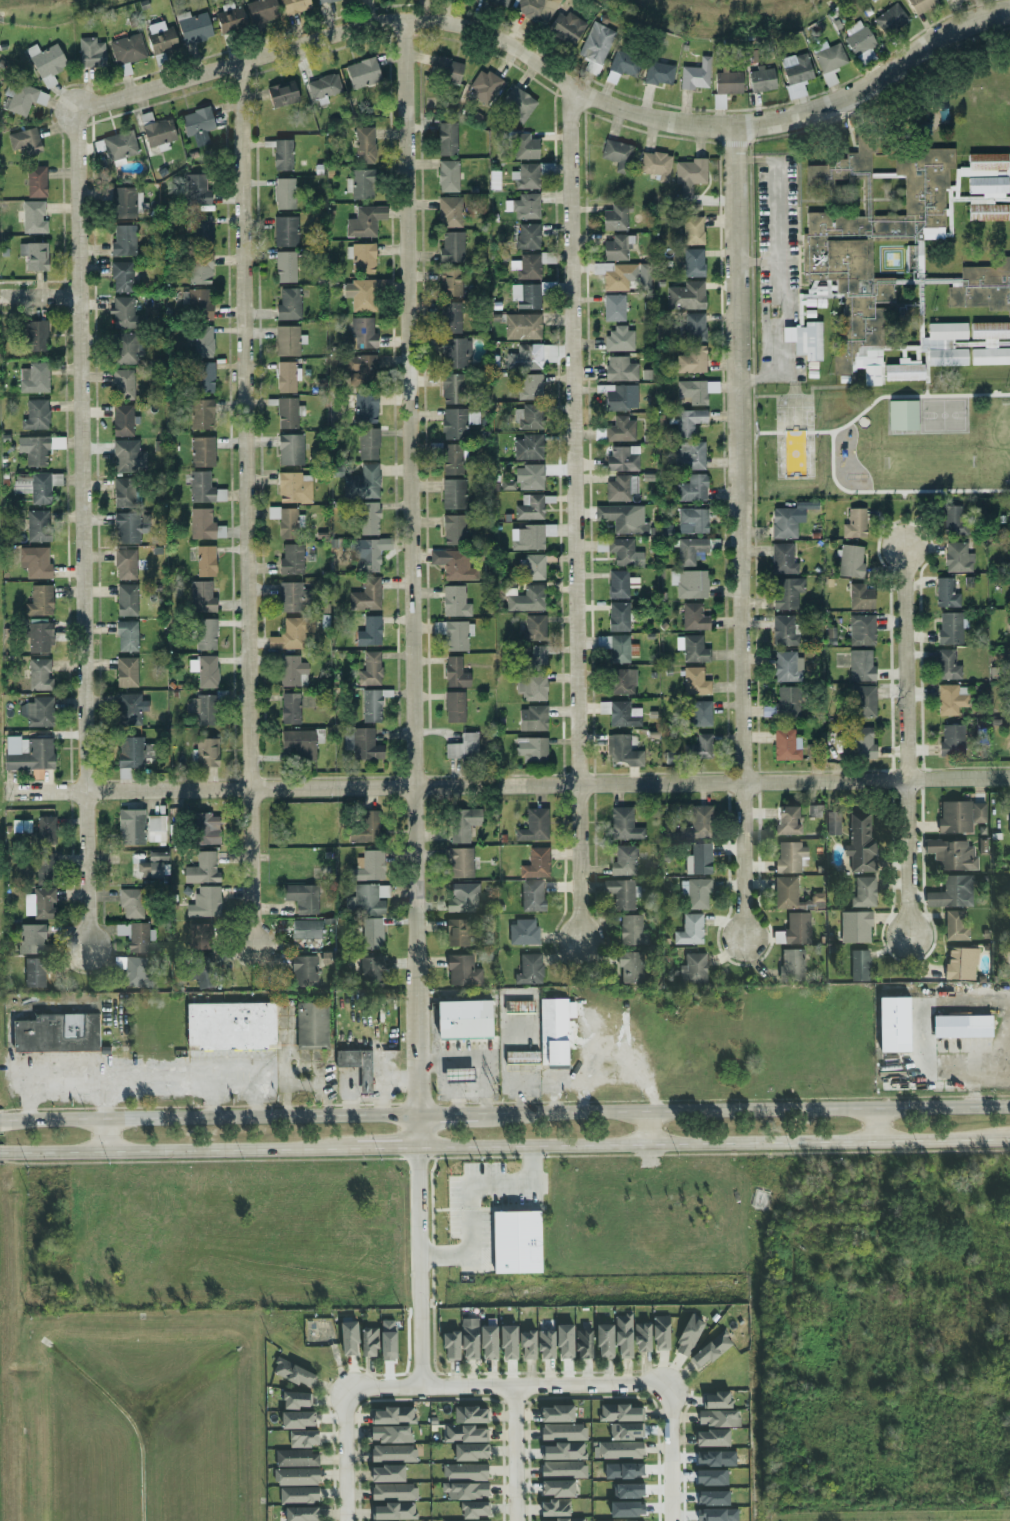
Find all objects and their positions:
building: (323, 1)
building: (498, 2)
building: (920, 5)
building: (294, 6)
building: (536, 9)
building: (261, 10)
building: (230, 19)
building: (889, 19)
building: (193, 26)
building: (565, 28)
building: (160, 37)
building: (859, 42)
building: (595, 46)
building: (126, 49)
building: (90, 52)
building: (828, 59)
building: (45, 61)
building: (446, 69)
building: (362, 72)
building: (658, 73)
building: (795, 73)
road: (551, 75)
building: (695, 75)
building: (761, 79)
building: (727, 83)
building: (483, 86)
building: (323, 88)
building: (281, 93)
building: (22, 98)
building: (518, 104)
building: (197, 124)
building: (158, 132)
building: (446, 138)
building: (23, 139)
building: (119, 145)
building: (364, 145)
building: (524, 146)
building: (282, 154)
building: (617, 155)
building: (655, 164)
building: (689, 175)
building: (447, 176)
building: (525, 176)
building: (35, 181)
building: (361, 183)
building: (195, 190)
building: (284, 193)
building: (124, 202)
building: (524, 206)
building: (449, 211)
building: (32, 217)
building: (615, 217)
building: (364, 221)
building: (201, 230)
building: (692, 230)
building: (285, 231)
building: (527, 236)
building: (122, 241)
building: (451, 247)
building: (617, 248)
building: (871, 253)
building: (33, 255)
building: (362, 258)
road: (759, 260)
building: (693, 262)
building: (285, 266)
building: (526, 266)
road: (778, 266)
building: (200, 268)
building: (615, 275)
building: (120, 276)
road: (38, 281)
building: (449, 282)
building: (983, 287)
building: (362, 294)
building: (525, 295)
building: (685, 296)
road: (37, 297)
building: (198, 304)
building: (288, 304)
building: (613, 307)
building: (123, 313)
building: (450, 318)
building: (522, 326)
building: (694, 326)
building: (361, 333)
building: (35, 335)
building: (618, 339)
building: (804, 339)
building: (287, 340)
building: (202, 341)
building: (989, 343)
building: (125, 347)
building: (454, 353)
building: (530, 356)
building: (691, 360)
building: (362, 363)
building: (619, 369)
building: (903, 371)
building: (286, 376)
building: (33, 377)
building: (203, 377)
building: (122, 384)
building: (529, 386)
building: (451, 388)
building: (695, 391)
building: (367, 409)
building: (287, 412)
building: (34, 414)
building: (200, 414)
building: (901, 415)
building: (529, 417)
building: (122, 420)
building: (688, 421)
building: (453, 423)
building: (620, 429)
building: (368, 444)
building: (528, 447)
building: (32, 449)
building: (290, 449)
building: (202, 451)
building: (689, 455)
building: (127, 456)
building: (622, 458)
building: (452, 459)
building: (528, 477)
building: (362, 483)
building: (37, 485)
building: (294, 487)
building: (620, 487)
building: (203, 488)
building: (691, 488)
building: (123, 491)
building: (453, 494)
road: (242, 505)
building: (529, 507)
road: (577, 516)
building: (622, 517)
building: (368, 518)
building: (692, 520)
building: (787, 520)
building: (285, 521)
building: (954, 521)
building: (201, 523)
building: (854, 523)
building: (37, 525)
building: (128, 526)
building: (453, 529)
road: (78, 530)
road: (741, 535)
building: (529, 536)
building: (690, 550)
building: (623, 552)
building: (369, 553)
building: (957, 557)
building: (291, 559)
building: (782, 559)
building: (205, 560)
building: (850, 560)
building: (36, 562)
building: (124, 563)
building: (454, 563)
building: (534, 566)
road: (409, 568)
building: (689, 583)
building: (617, 584)
building: (786, 593)
building: (945, 593)
building: (365, 595)
building: (202, 596)
building: (859, 596)
building: (292, 597)
building: (39, 599)
building: (126, 599)
building: (527, 599)
building: (454, 601)
building: (617, 616)
building: (693, 617)
building: (533, 627)
building: (950, 627)
building: (1008, 628)
building: (784, 630)
building: (861, 630)
building: (368, 632)
building: (291, 633)
building: (205, 634)
building: (454, 634)
building: (126, 635)
building: (39, 636)
building: (691, 648)
building: (621, 649)
building: (535, 658)
building: (860, 665)
building: (946, 665)
building: (784, 666)
building: (370, 669)
building: (204, 670)
building: (125, 671)
building: (292, 671)
building: (454, 672)
building: (39, 673)
building: (621, 681)
building: (694, 681)
building: (532, 688)
building: (786, 700)
building: (949, 700)
building: (863, 701)
building: (370, 705)
building: (453, 706)
building: (289, 708)
building: (129, 709)
building: (202, 709)
building: (37, 711)
building: (620, 713)
building: (698, 713)
building: (532, 718)
building: (951, 740)
building: (299, 743)
building: (361, 743)
building: (862, 743)
road: (907, 743)
building: (785, 745)
building: (462, 747)
building: (698, 747)
building: (530, 750)
building: (621, 750)
building: (133, 752)
building: (206, 752)
building: (27, 753)
road: (510, 785)
building: (814, 811)
building: (1009, 816)
building: (961, 817)
building: (787, 821)
building: (462, 823)
building: (698, 823)
building: (624, 824)
building: (834, 824)
building: (533, 825)
building: (130, 826)
building: (155, 828)
building: (206, 828)
building: (365, 828)
building: (45, 830)
building: (861, 845)
building: (954, 856)
building: (792, 858)
building: (700, 860)
building: (624, 861)
building: (459, 862)
building: (535, 863)
building: (153, 865)
building: (369, 866)
building: (44, 867)
building: (202, 869)
building: (865, 893)
building: (622, 894)
building: (699, 894)
building: (953, 894)
building: (795, 896)
building: (302, 897)
building: (533, 897)
building: (462, 898)
building: (369, 899)
building: (38, 902)
building: (130, 902)
building: (205, 902)
building: (956, 927)
building: (858, 928)
building: (306, 929)
building: (691, 931)
building: (795, 931)
building: (202, 932)
building: (633, 932)
building: (458, 933)
building: (524, 933)
building: (374, 934)
building: (135, 935)
building: (31, 939)
building: (793, 964)
building: (962, 965)
building: (861, 966)
building: (632, 968)
building: (372, 970)
building: (461, 970)
building: (531, 970)
building: (694, 970)
building: (305, 971)
building: (36, 973)
building: (206, 973)
building: (521, 1008)
building: (466, 1020)
building: (895, 1025)
building: (313, 1026)
building: (232, 1027)
building: (963, 1027)
building: (556, 1031)
building: (58, 1034)
building: (524, 1058)
road: (451, 1059)
road: (502, 1061)
road: (984, 1066)
building: (358, 1067)
road: (307, 1068)
road: (485, 1075)
building: (460, 1076)
road: (140, 1077)
road: (382, 1081)
road: (447, 1090)
road: (210, 1099)
road: (458, 1103)
road: (486, 1103)
road: (744, 1112)
road: (448, 1117)
road: (212, 1120)
road: (4, 1124)
road: (877, 1125)
road: (647, 1129)
road: (104, 1138)
road: (713, 1143)
road: (387, 1149)
road: (183, 1152)
road: (4, 1155)
road: (470, 1202)
building: (518, 1243)
road: (418, 1253)
building: (662, 1334)
building: (625, 1336)
building: (690, 1336)
building: (644, 1338)
building: (350, 1339)
building: (471, 1340)
building: (606, 1341)
building: (510, 1342)
building: (566, 1342)
building: (370, 1343)
building: (490, 1344)
building: (547, 1345)
building: (585, 1345)
building: (529, 1346)
building: (452, 1347)
building: (711, 1351)
building: (294, 1374)
road: (505, 1389)
building: (298, 1401)
building: (717, 1401)
building: (558, 1414)
building: (620, 1414)
building: (392, 1416)
building: (471, 1416)
road: (666, 1418)
building: (719, 1419)
building: (299, 1421)
building: (626, 1432)
building: (564, 1433)
building: (392, 1435)
building: (464, 1435)
building: (305, 1439)
building: (713, 1439)
building: (621, 1451)
building: (563, 1452)
building: (472, 1453)
building: (394, 1454)
road: (345, 1455)
road: (511, 1455)
building: (298, 1459)
building: (565, 1470)
building: (465, 1472)
building: (388, 1474)
building: (296, 1477)
road: (667, 1485)
building: (559, 1489)
building: (467, 1491)
building: (395, 1493)
building: (300, 1496)
building: (556, 1509)
building: (475, 1511)
building: (395, 1512)
building: (672, 1513)
building: (303, 1514)
building: (567, 1520)

